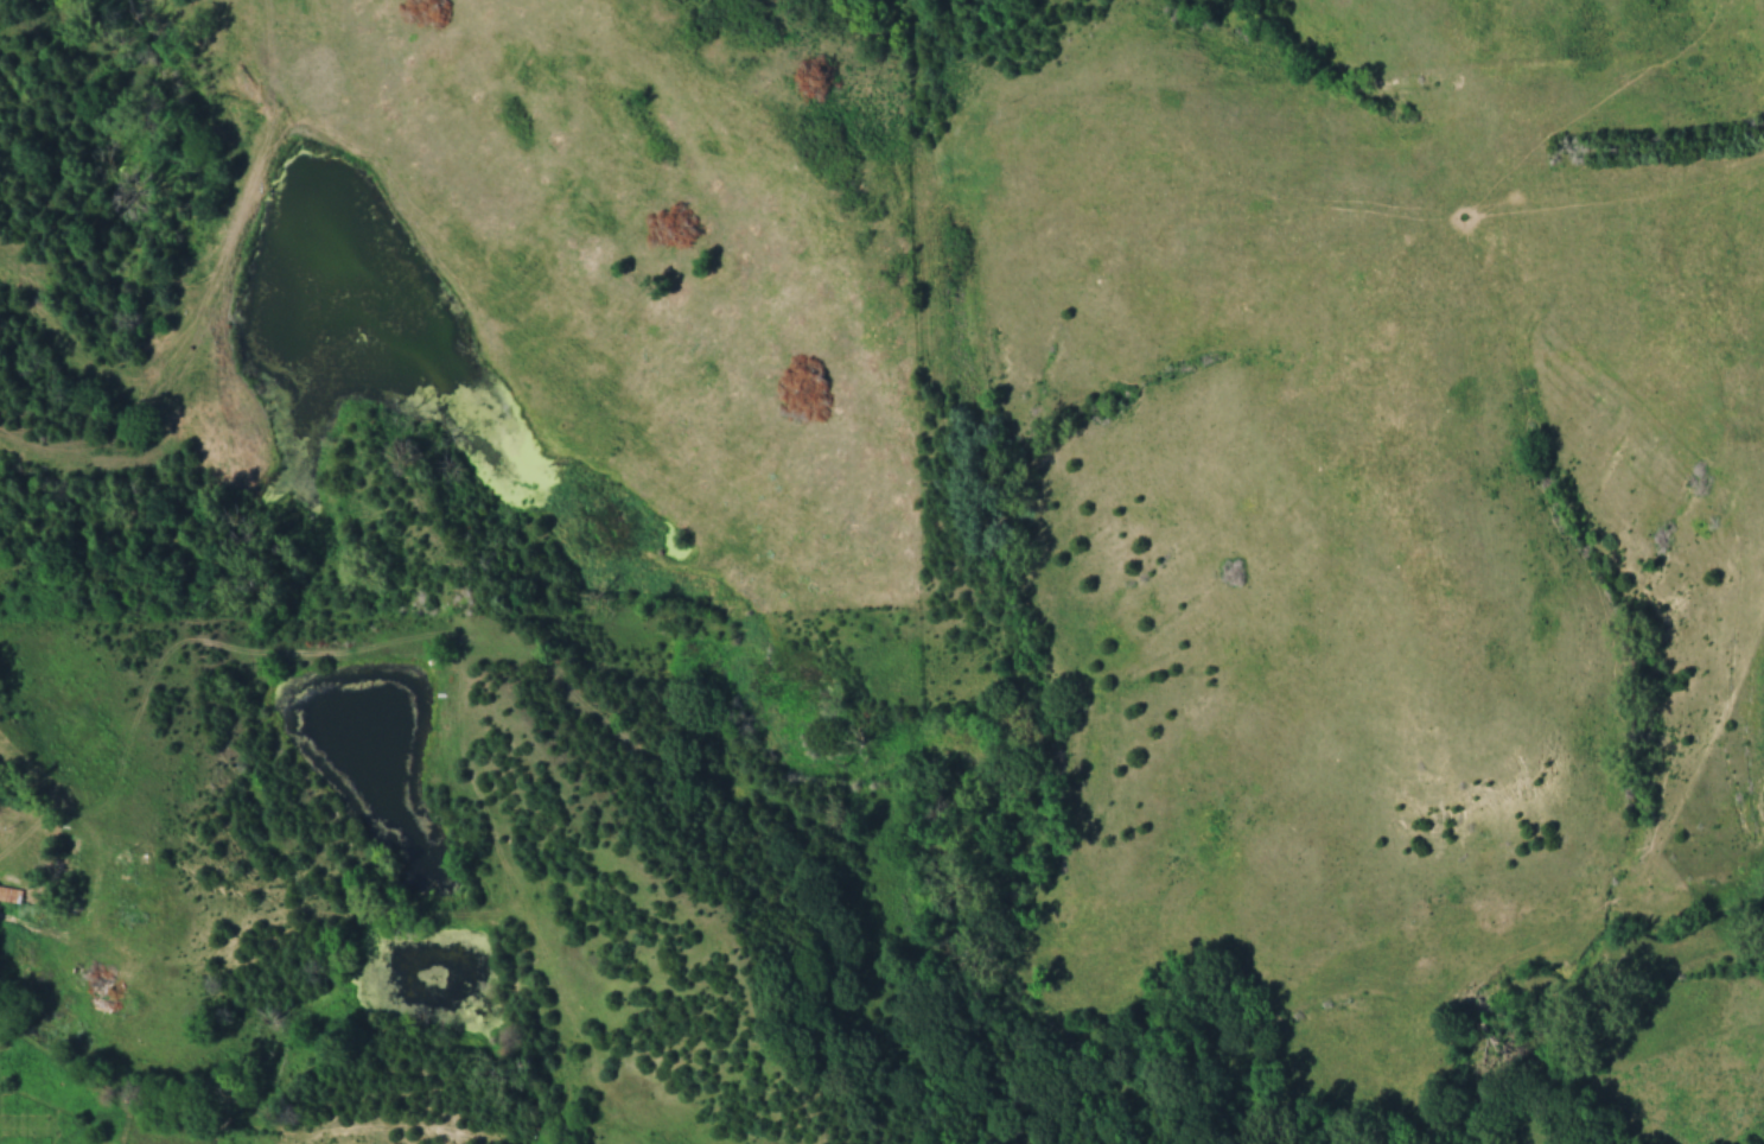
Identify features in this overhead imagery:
building: (0, 886)

